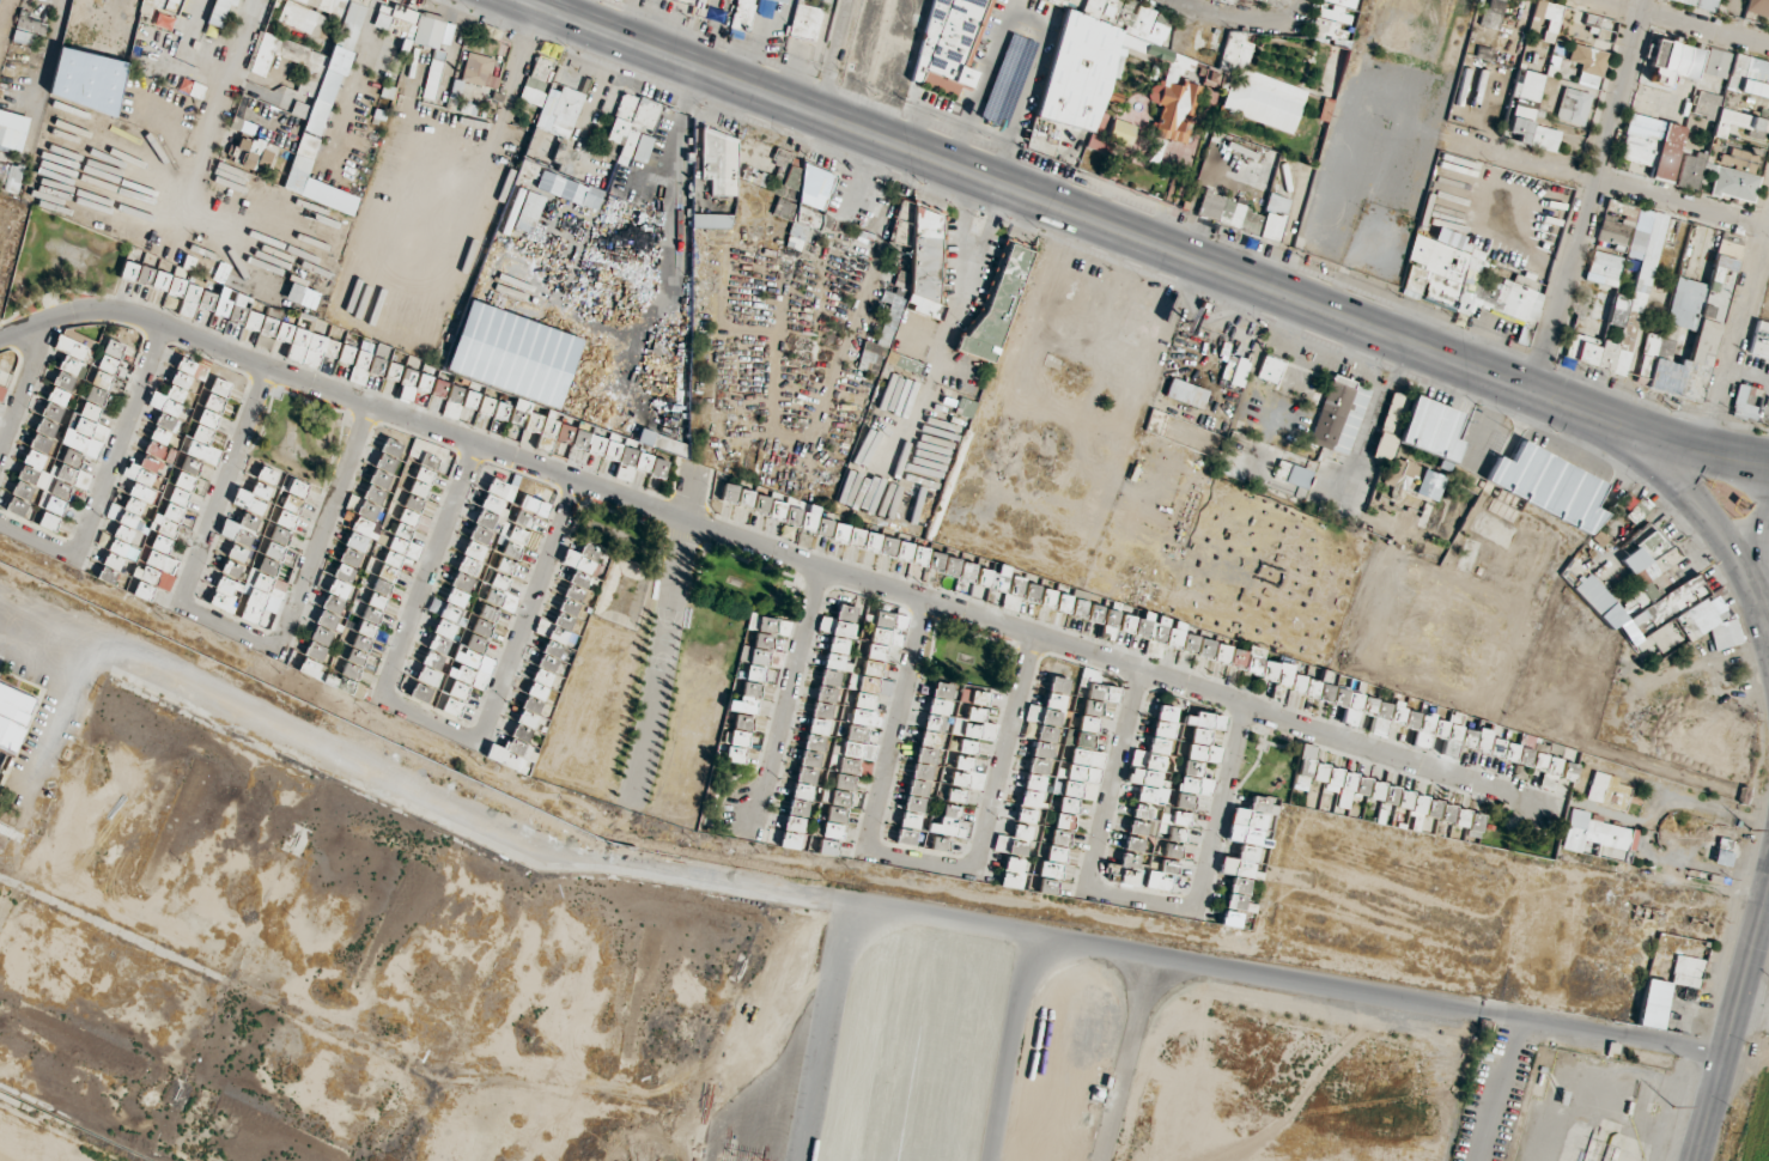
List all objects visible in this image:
crop: (1750, 1113)

